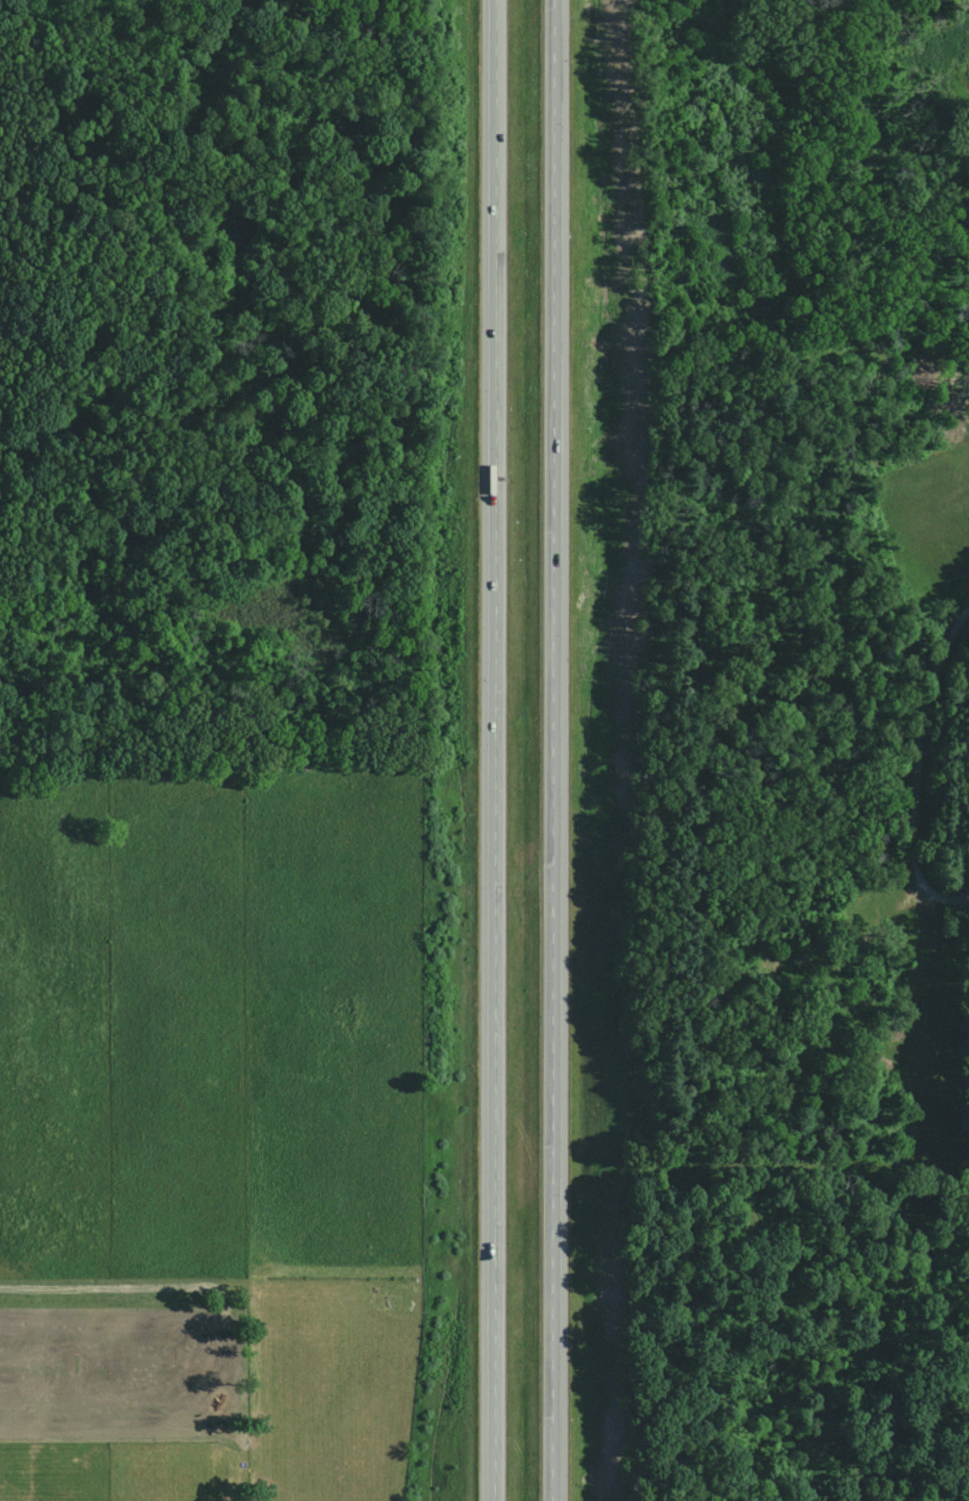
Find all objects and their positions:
road: (495, 750)
road: (553, 750)
road: (922, 754)

